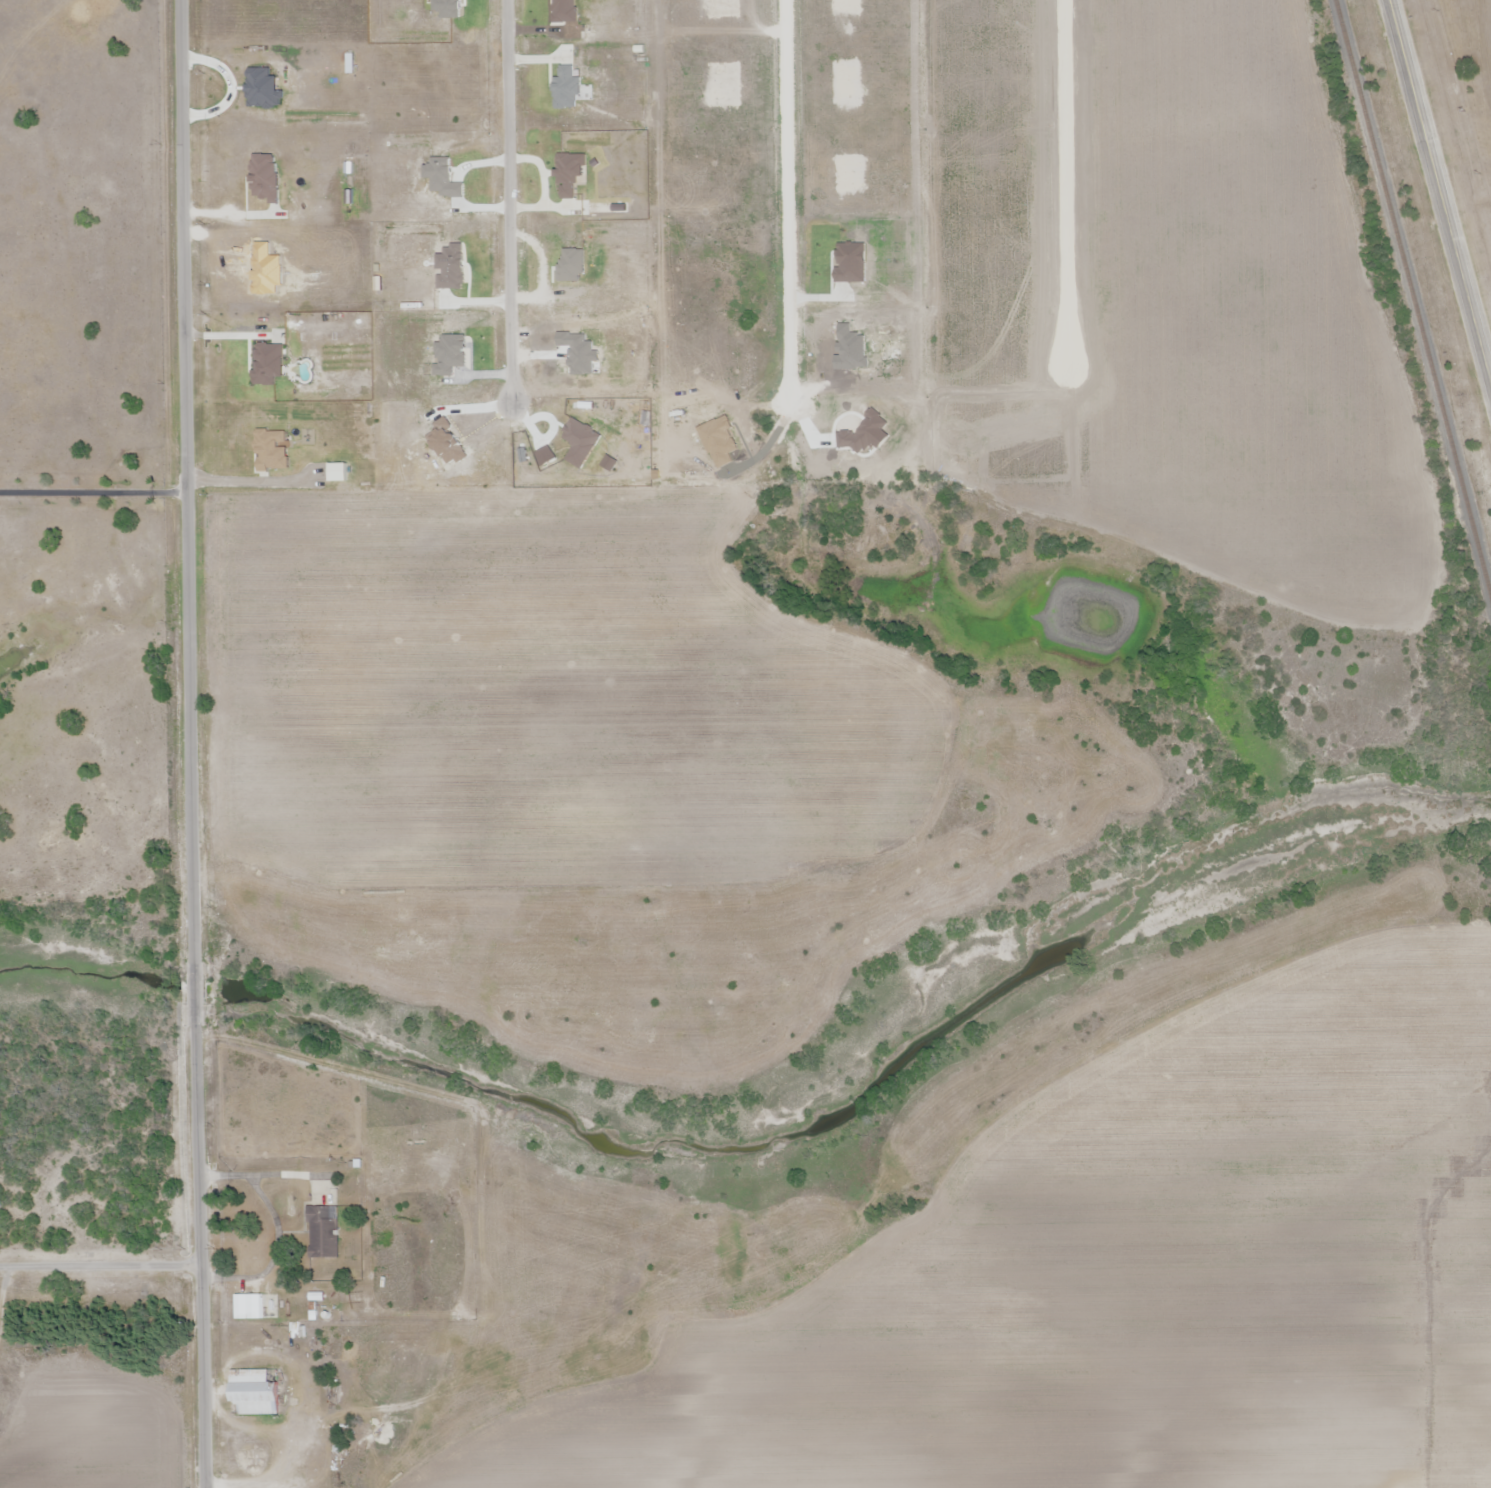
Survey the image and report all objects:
park: (1469, 72)
road: (1066, 182)
road: (1440, 192)
road: (787, 200)
road: (509, 202)
railway: (1413, 296)
road: (93, 493)
road: (187, 504)
building: (323, 1232)
road: (196, 1248)
road: (98, 1269)
building: (254, 1392)

